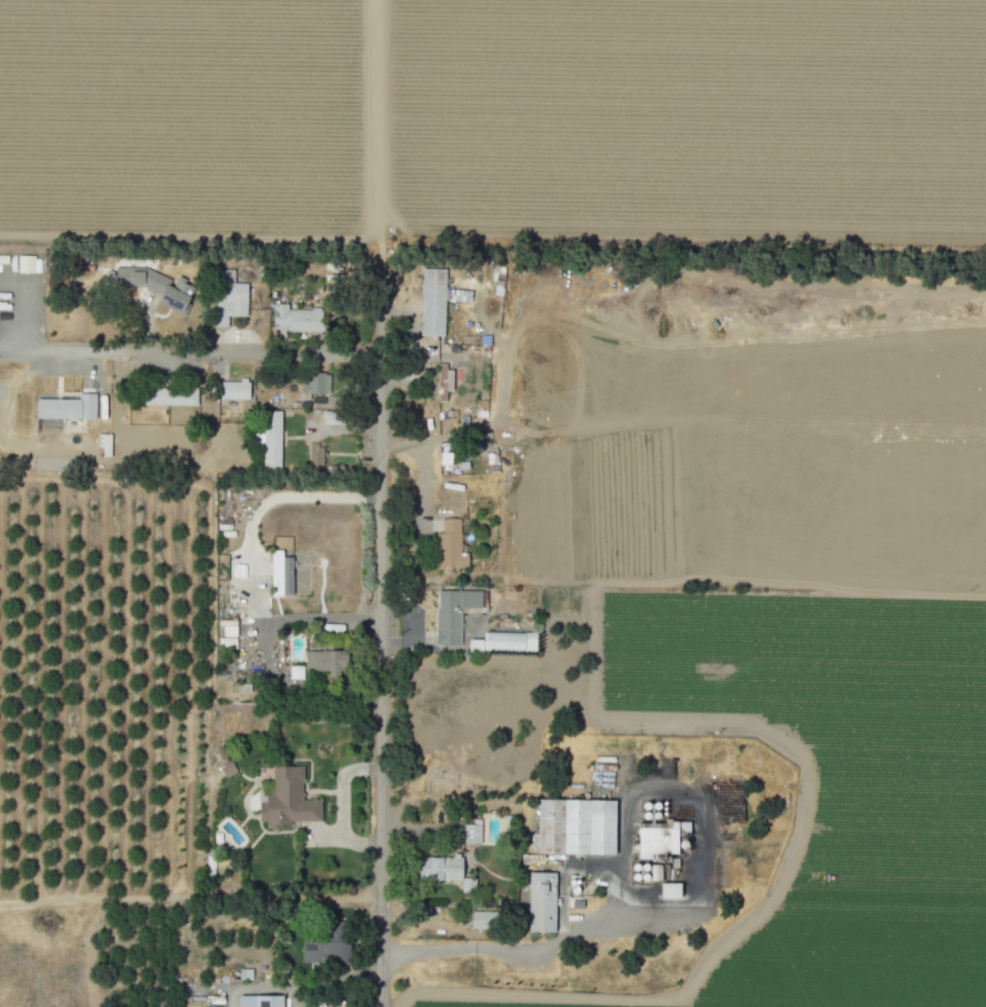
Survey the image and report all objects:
road: (378, 129)
building: (25, 264)
building: (156, 286)
building: (228, 297)
building: (432, 302)
road: (378, 307)
building: (296, 318)
road: (198, 354)
building: (441, 382)
building: (316, 383)
building: (234, 389)
building: (166, 396)
building: (66, 407)
building: (332, 417)
building: (271, 439)
building: (104, 443)
building: (315, 455)
building: (450, 544)
road: (251, 567)
building: (280, 574)
building: (452, 614)
building: (228, 628)
building: (227, 640)
building: (502, 642)
building: (325, 660)
building: (296, 672)
road: (381, 680)
building: (226, 768)
building: (285, 799)
road: (341, 805)
building: (575, 826)
building: (659, 838)
building: (441, 868)
building: (669, 890)
building: (541, 902)
building: (482, 919)
building: (324, 948)
road: (514, 949)
road: (261, 988)
building: (259, 1001)

